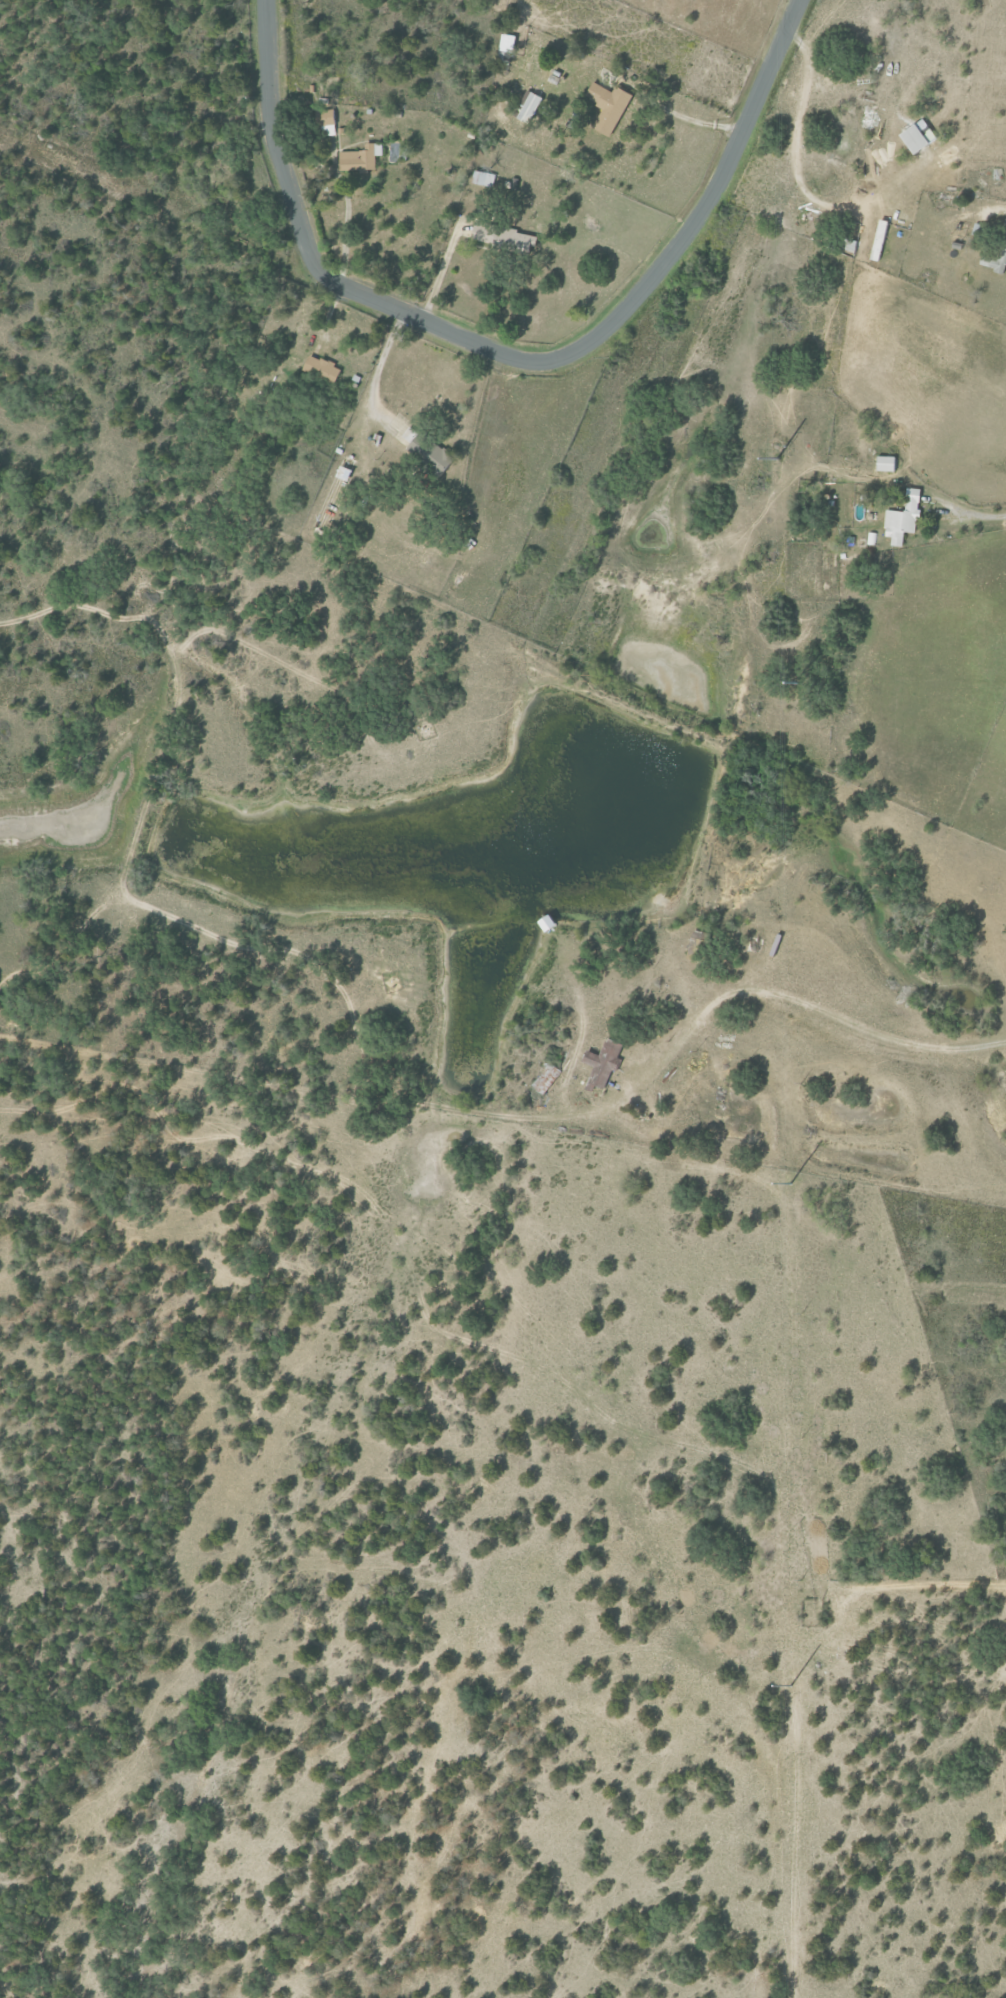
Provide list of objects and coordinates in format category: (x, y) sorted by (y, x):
building: (509, 43)
building: (530, 106)
building: (610, 106)
road: (684, 117)
building: (328, 122)
road: (792, 139)
building: (918, 139)
road: (274, 140)
building: (362, 158)
building: (483, 178)
road: (716, 184)
road: (993, 210)
building: (506, 237)
building: (995, 261)
road: (437, 271)
road: (453, 336)
road: (375, 365)
building: (324, 368)
power tower: (776, 459)
building: (889, 463)
road: (973, 516)
building: (905, 518)
building: (871, 537)
power tower: (799, 683)
road: (712, 1005)
road: (570, 1064)
building: (604, 1065)
building: (547, 1078)
power tower: (789, 1183)
power tower: (790, 1686)

